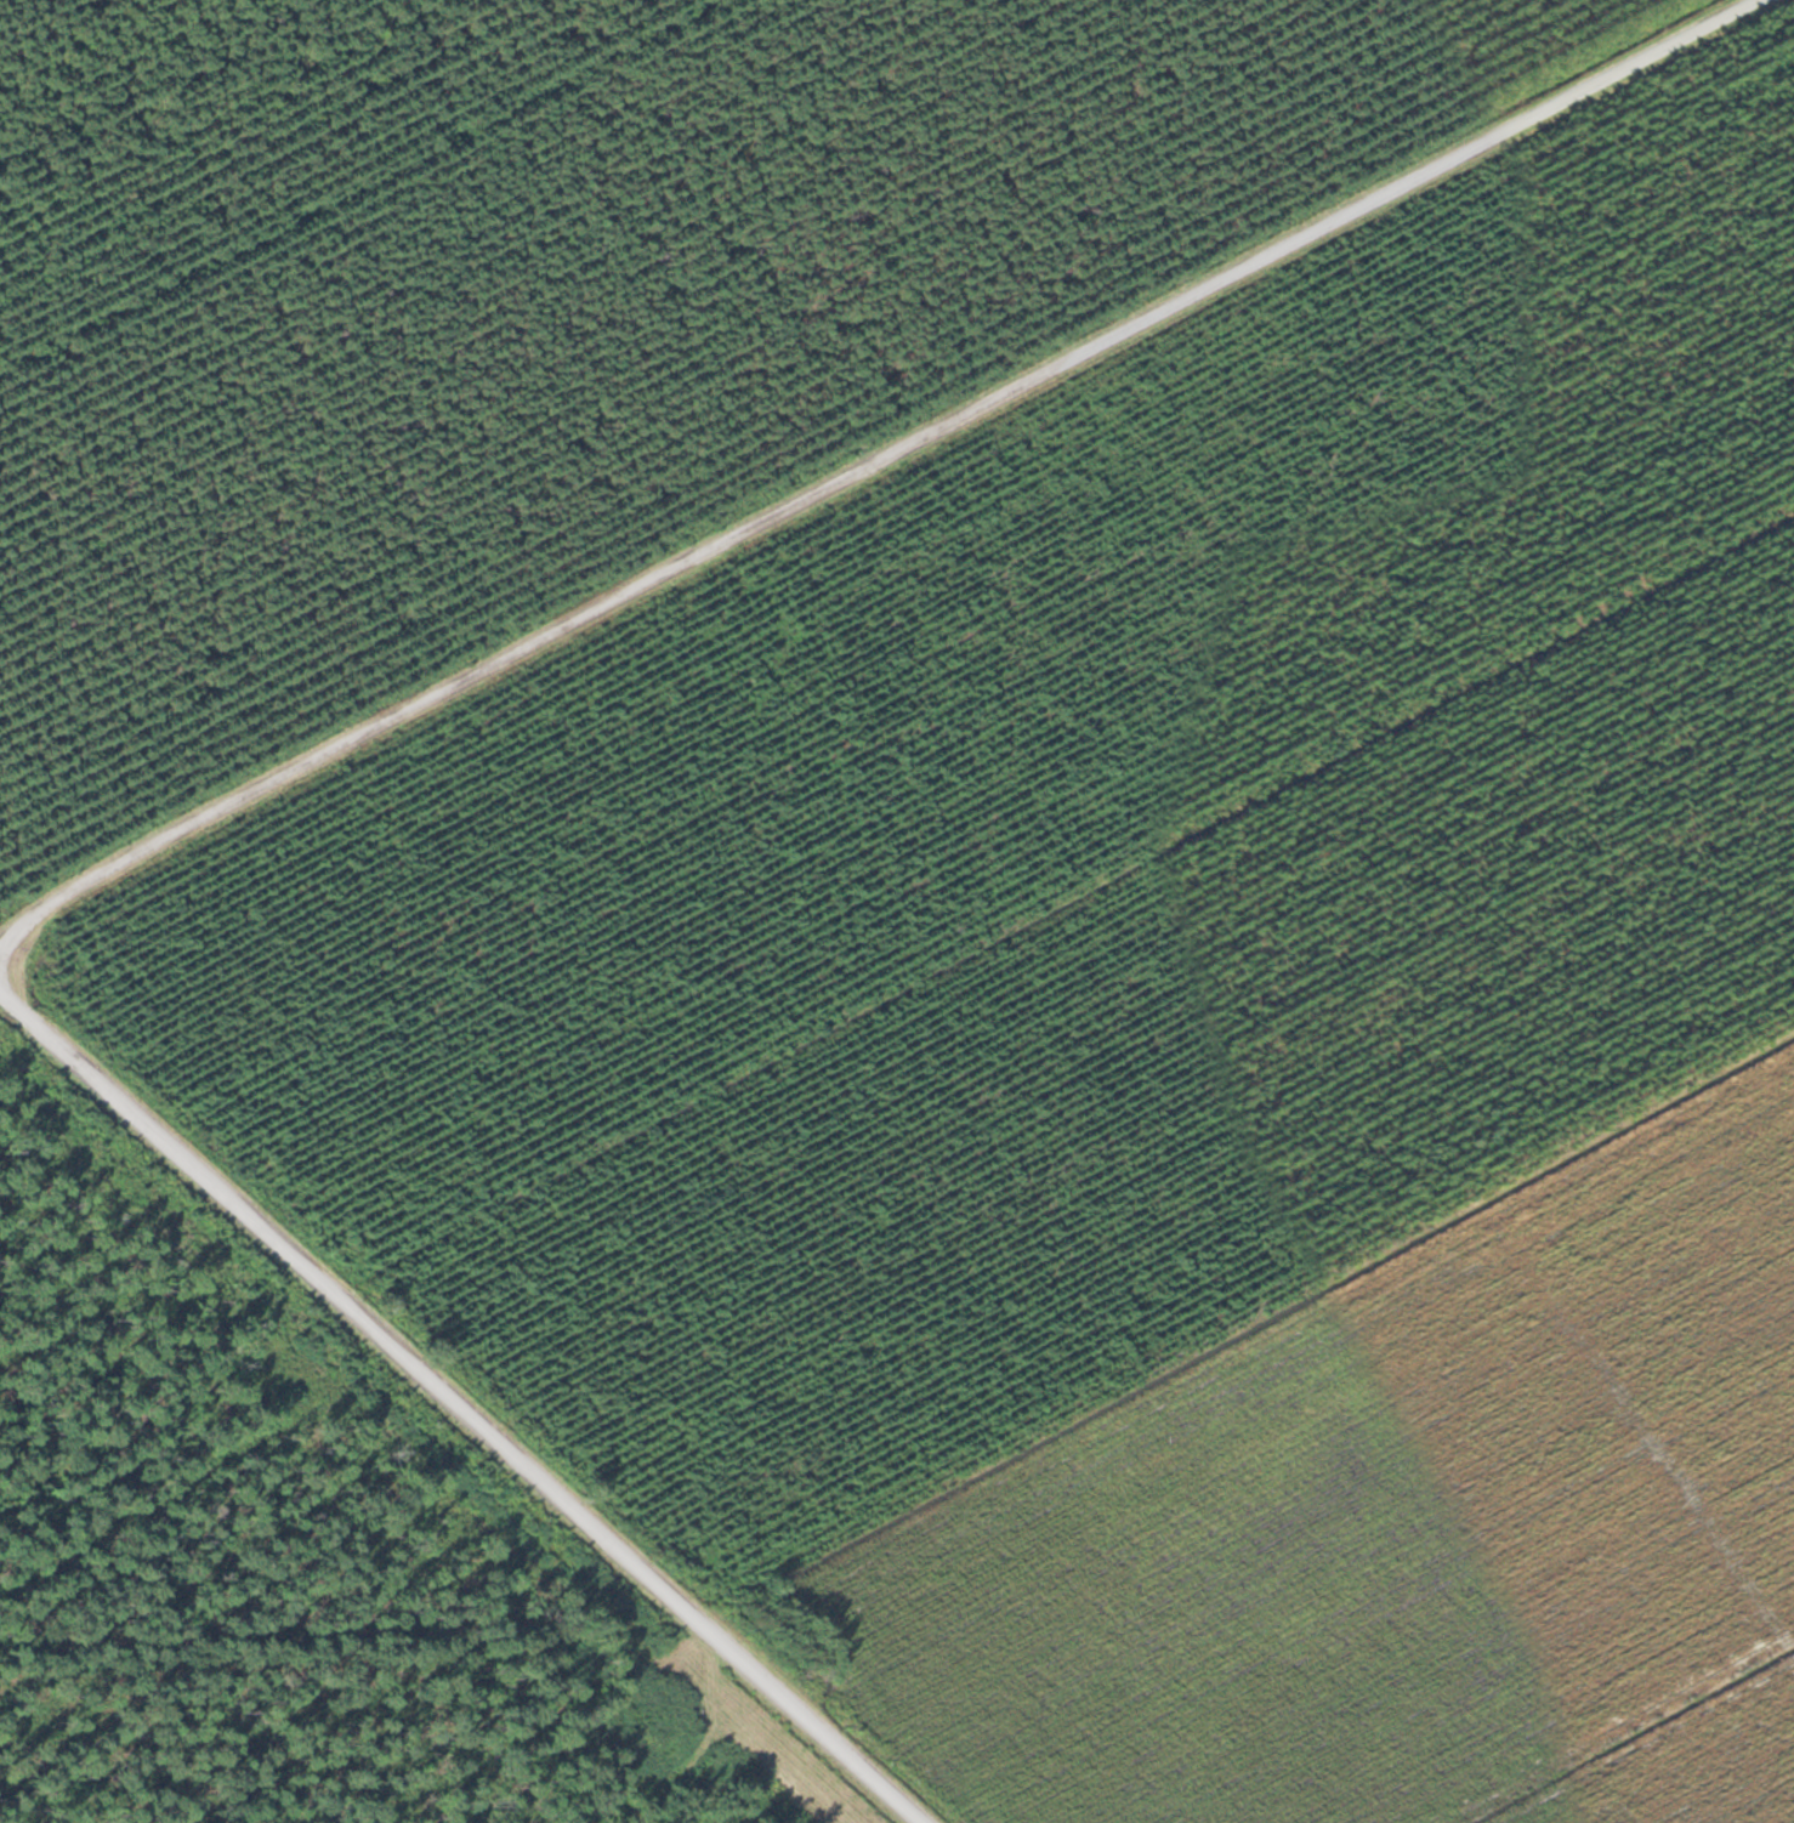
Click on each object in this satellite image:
road: (872, 468)
road: (462, 1404)

